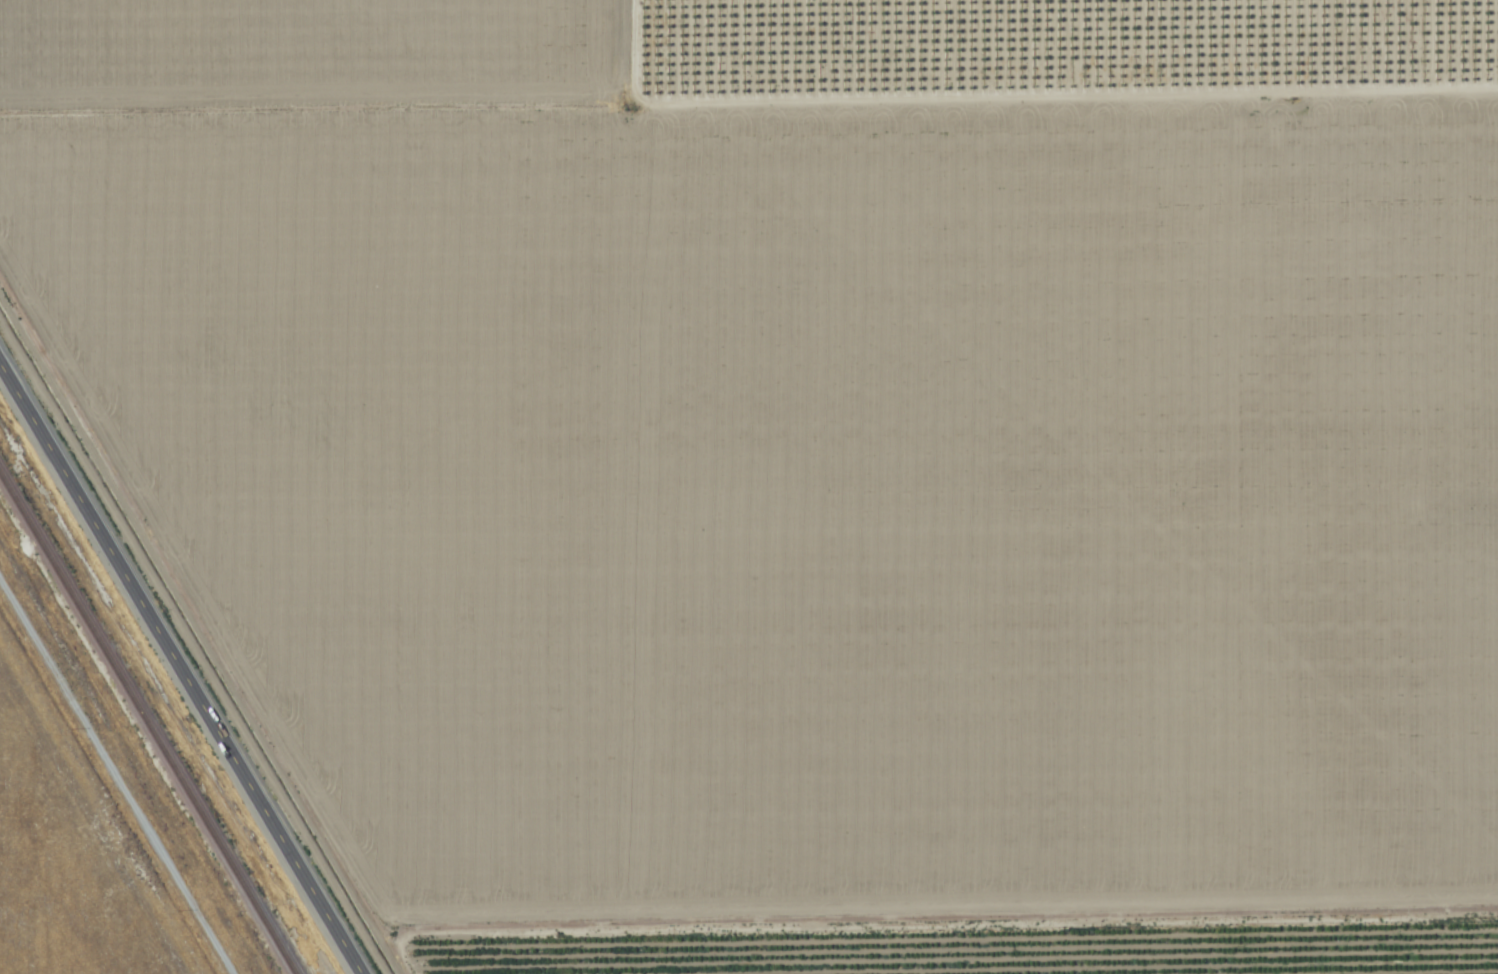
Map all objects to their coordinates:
road: (183, 664)
railway: (147, 725)
crop: (136, 742)
road: (122, 768)
park: (50, 886)

